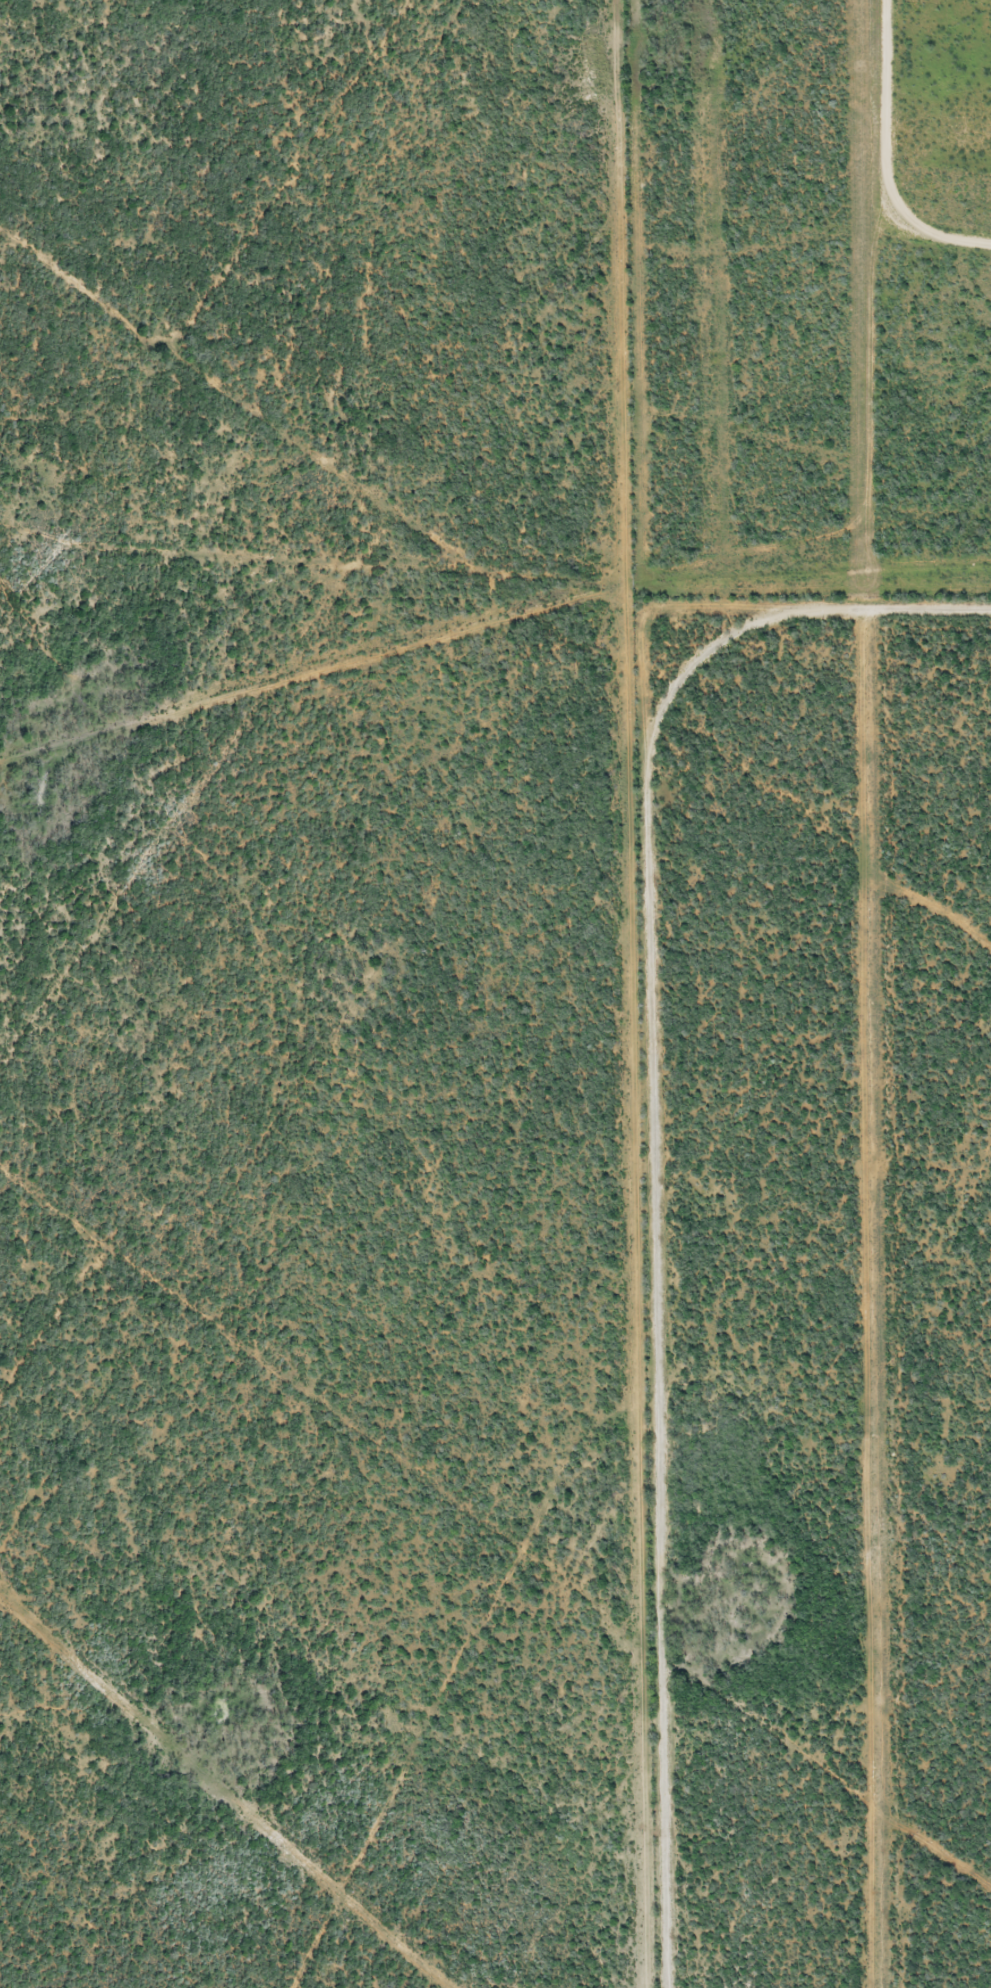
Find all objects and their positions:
road: (29, 23)
road: (900, 374)
road: (630, 606)
road: (918, 1329)

